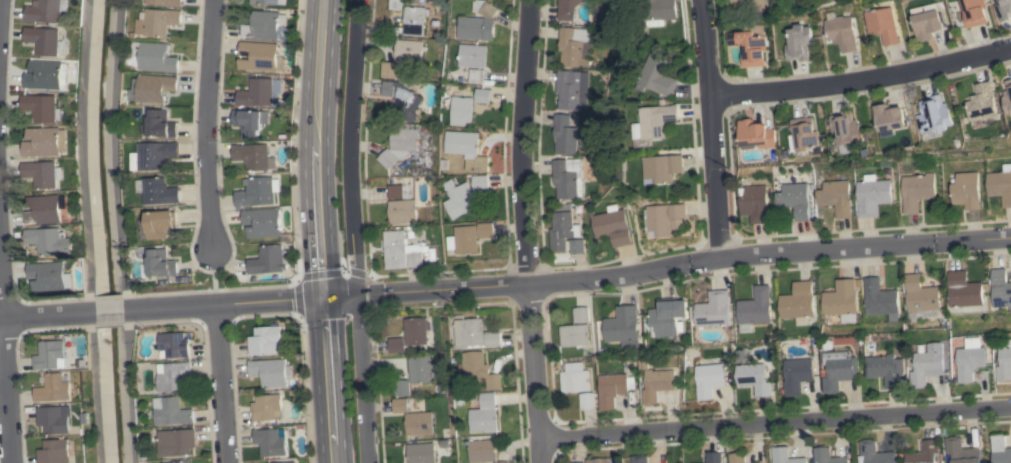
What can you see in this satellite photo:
building: (165, 2)
building: (264, 2)
building: (747, 3)
building: (396, 4)
building: (567, 9)
building: (1004, 9)
building: (46, 10)
building: (610, 11)
building: (658, 12)
building: (976, 12)
building: (415, 19)
building: (158, 21)
building: (478, 22)
building: (883, 23)
building: (929, 24)
building: (263, 25)
building: (841, 32)
building: (44, 39)
building: (798, 43)
building: (751, 45)
building: (572, 46)
building: (472, 55)
building: (155, 56)
building: (257, 56)
building: (402, 58)
building: (46, 74)
building: (658, 75)
building: (477, 76)
road: (861, 79)
building: (155, 87)
building: (571, 90)
building: (256, 93)
building: (483, 95)
building: (1008, 96)
building: (401, 99)
building: (982, 102)
building: (42, 107)
building: (462, 111)
building: (935, 114)
building: (890, 119)
building: (249, 121)
building: (655, 121)
road: (205, 123)
building: (161, 124)
road: (711, 128)
building: (846, 128)
building: (805, 133)
building: (566, 134)
building: (755, 135)
building: (45, 141)
building: (399, 145)
building: (467, 149)
building: (154, 155)
building: (253, 156)
building: (663, 167)
building: (43, 173)
building: (567, 178)
building: (481, 183)
building: (1000, 184)
building: (917, 190)
building: (966, 190)
building: (159, 191)
building: (398, 191)
building: (255, 192)
building: (871, 195)
building: (835, 197)
building: (461, 198)
building: (793, 199)
building: (754, 203)
building: (44, 209)
building: (402, 211)
building: (665, 217)
building: (161, 223)
building: (264, 223)
building: (613, 225)
building: (486, 230)
road: (320, 231)
road: (352, 231)
road: (523, 231)
building: (565, 232)
building: (464, 239)
building: (49, 240)
building: (401, 251)
building: (267, 260)
building: (159, 264)
building: (49, 276)
road: (569, 279)
building: (1001, 288)
building: (964, 290)
building: (921, 295)
traffic signals: (325, 297)
building: (881, 299)
building: (843, 300)
building: (798, 301)
building: (756, 306)
building: (714, 310)
road: (109, 311)
building: (581, 314)
road: (46, 315)
building: (923, 315)
building: (668, 317)
building: (623, 327)
building: (475, 334)
building: (409, 335)
building: (574, 335)
building: (265, 340)
building: (174, 345)
building: (51, 355)
building: (970, 359)
building: (1004, 362)
building: (927, 364)
building: (422, 369)
building: (479, 369)
building: (837, 369)
building: (885, 369)
building: (269, 372)
road: (5, 375)
building: (173, 375)
building: (797, 375)
building: (754, 377)
building: (708, 379)
building: (574, 380)
road: (221, 384)
building: (657, 384)
building: (401, 387)
building: (54, 388)
building: (613, 388)
building: (587, 400)
building: (400, 405)
building: (266, 408)
building: (173, 411)
building: (485, 414)
building: (55, 418)
road: (774, 422)
building: (419, 423)
building: (177, 442)
building: (269, 442)
building: (1000, 449)
building: (483, 450)
building: (55, 451)
building: (961, 451)
building: (923, 452)
building: (420, 453)
building: (871, 453)
building: (785, 456)
building: (827, 456)
building: (712, 457)
building: (737, 458)
building: (639, 459)
building: (597, 460)
building: (177, 462)
building: (287, 462)
building: (503, 462)
building: (579, 462)

